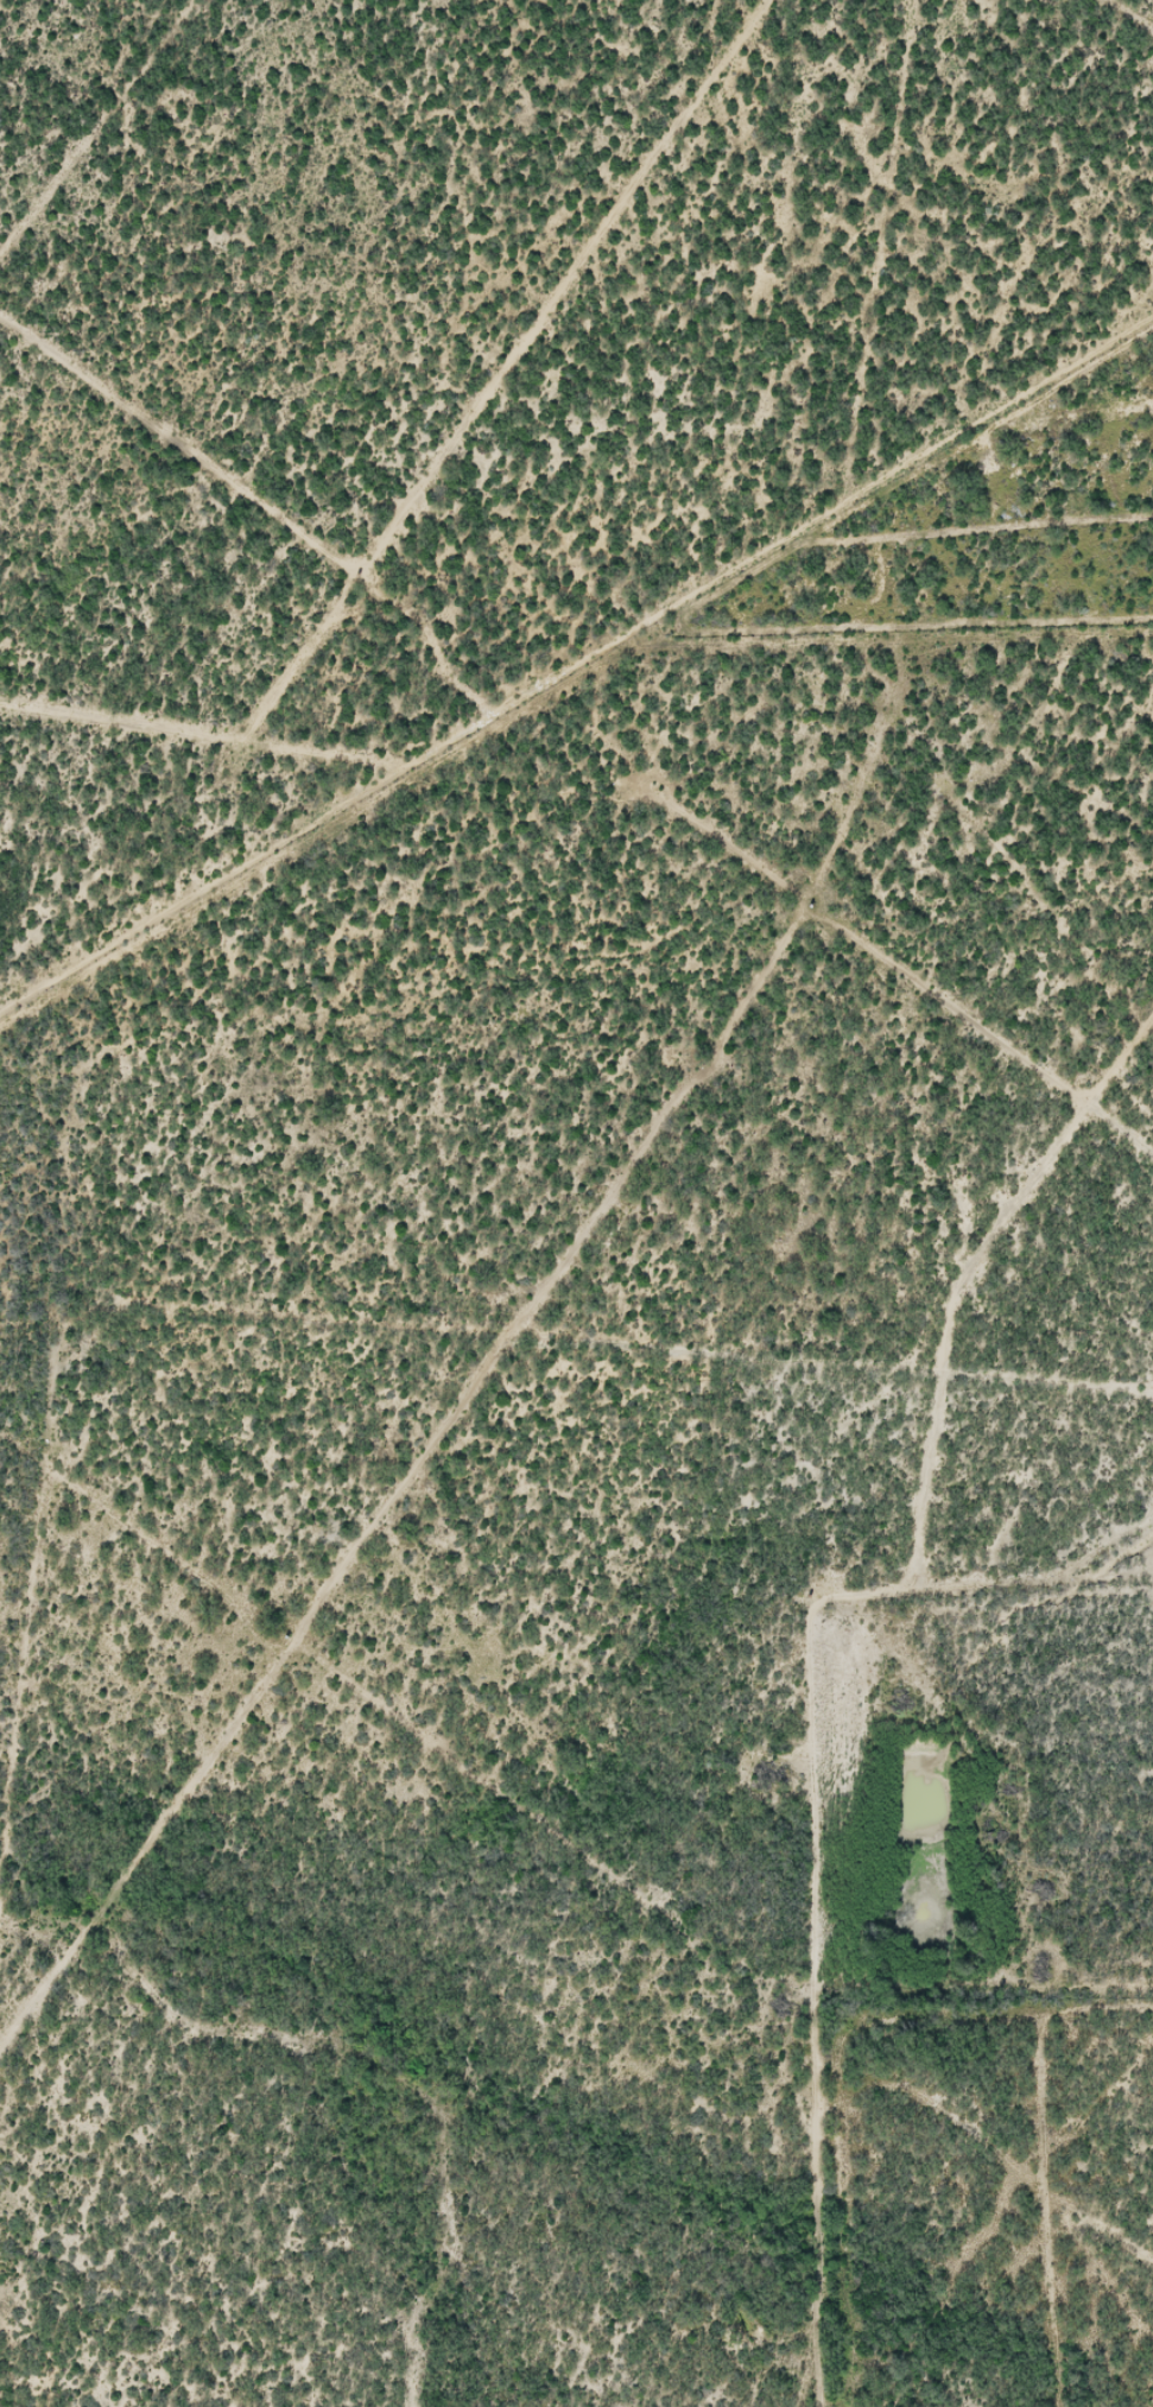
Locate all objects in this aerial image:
road: (964, 1499)

